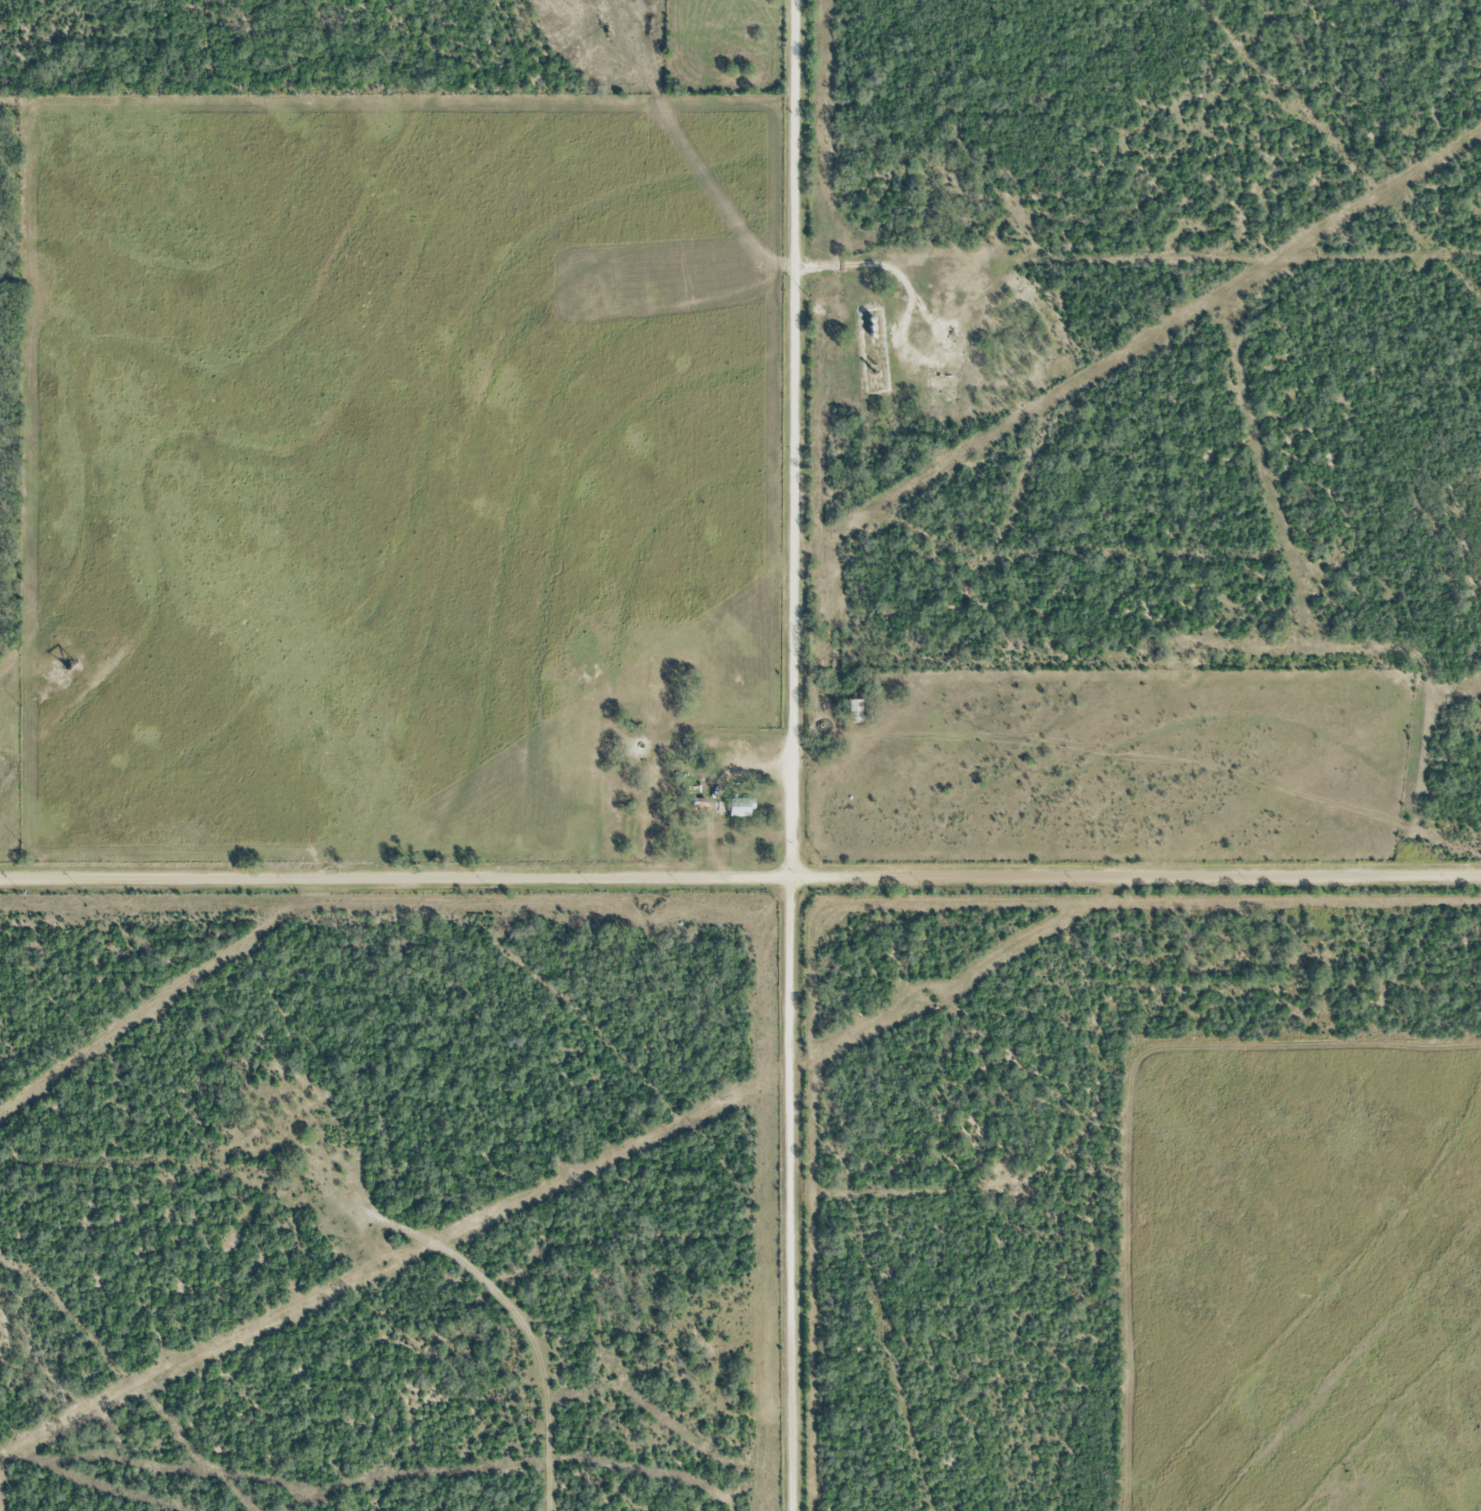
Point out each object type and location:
park: (722, 47)
road: (859, 262)
petroleum well: (66, 655)
building: (854, 712)
road: (787, 755)
building: (745, 756)
building: (740, 806)
road: (740, 873)

